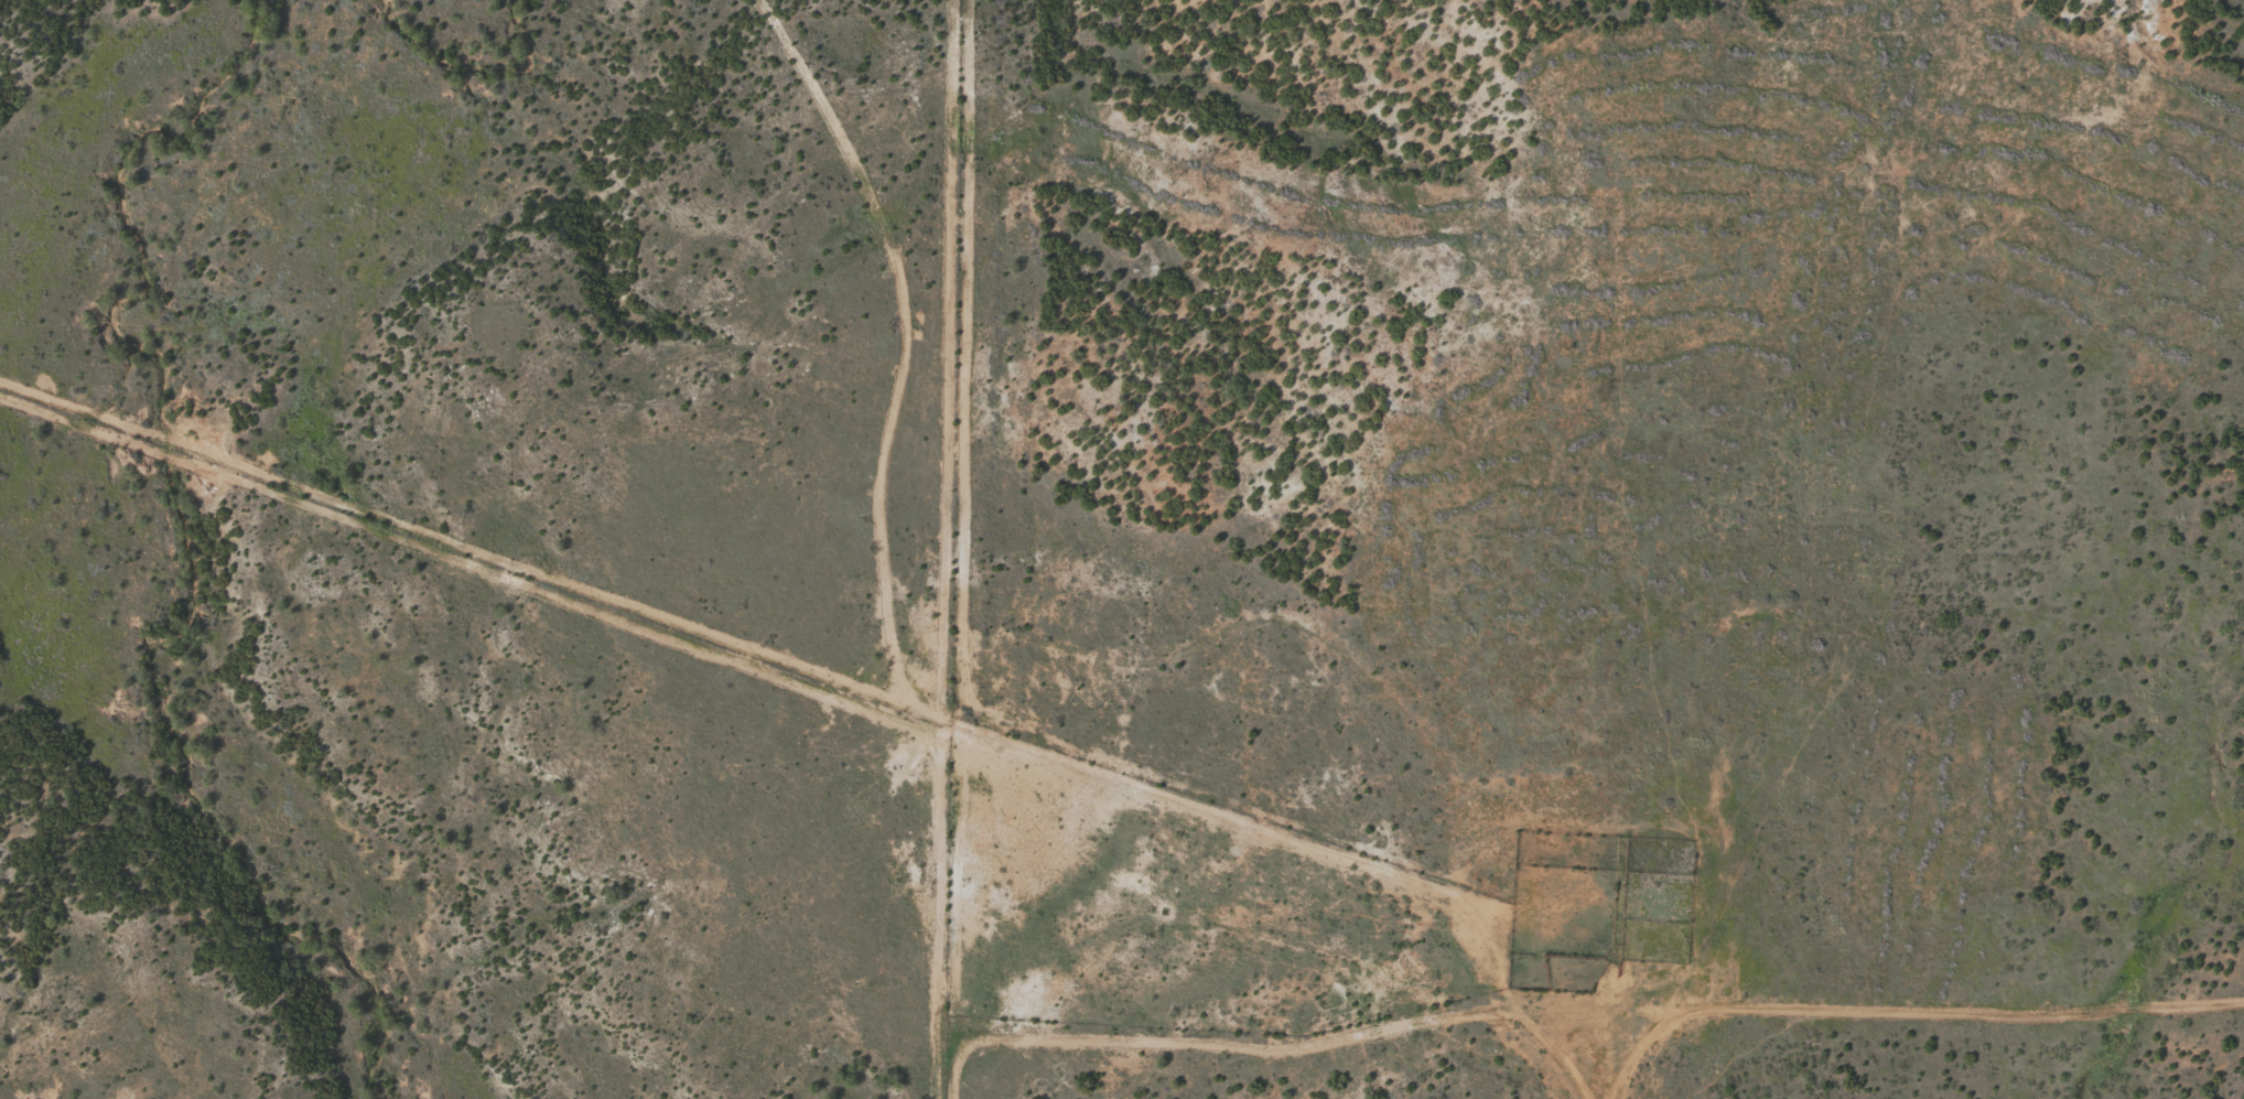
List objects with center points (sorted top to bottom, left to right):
road: (1032, 718)

